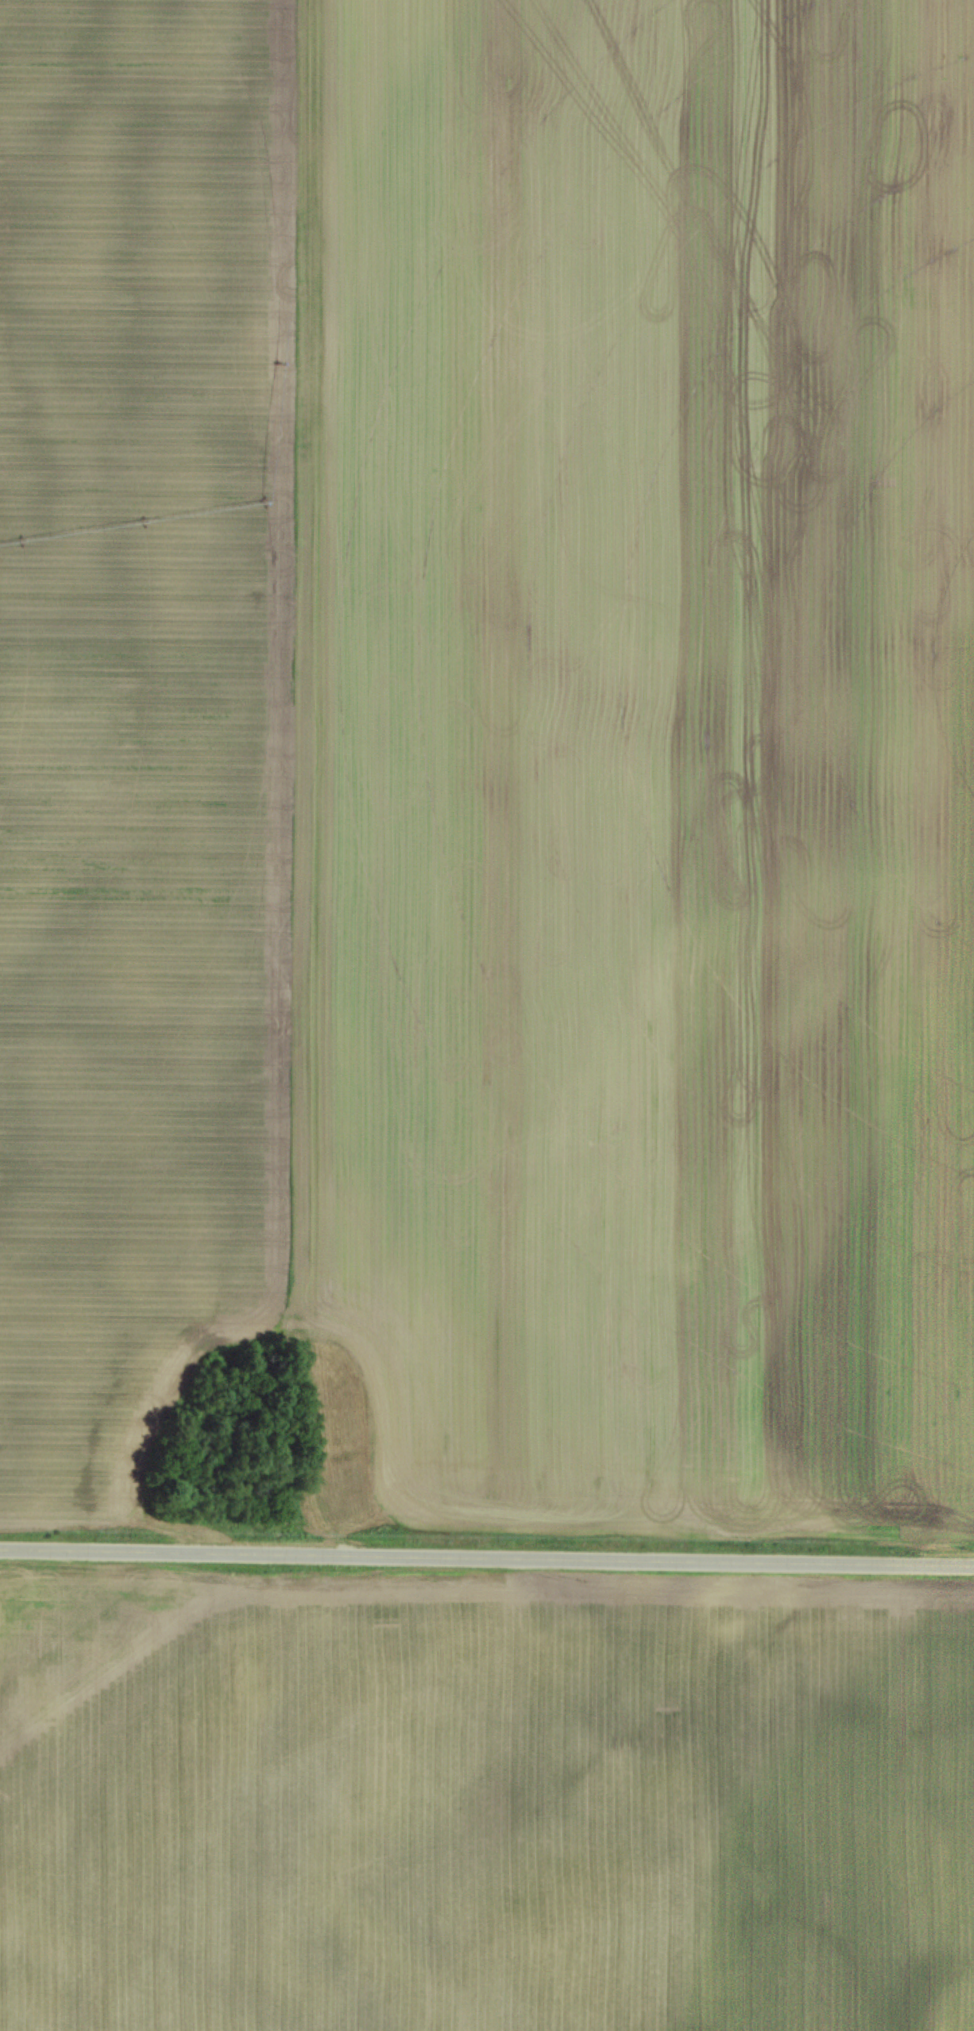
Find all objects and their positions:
road: (487, 1559)

